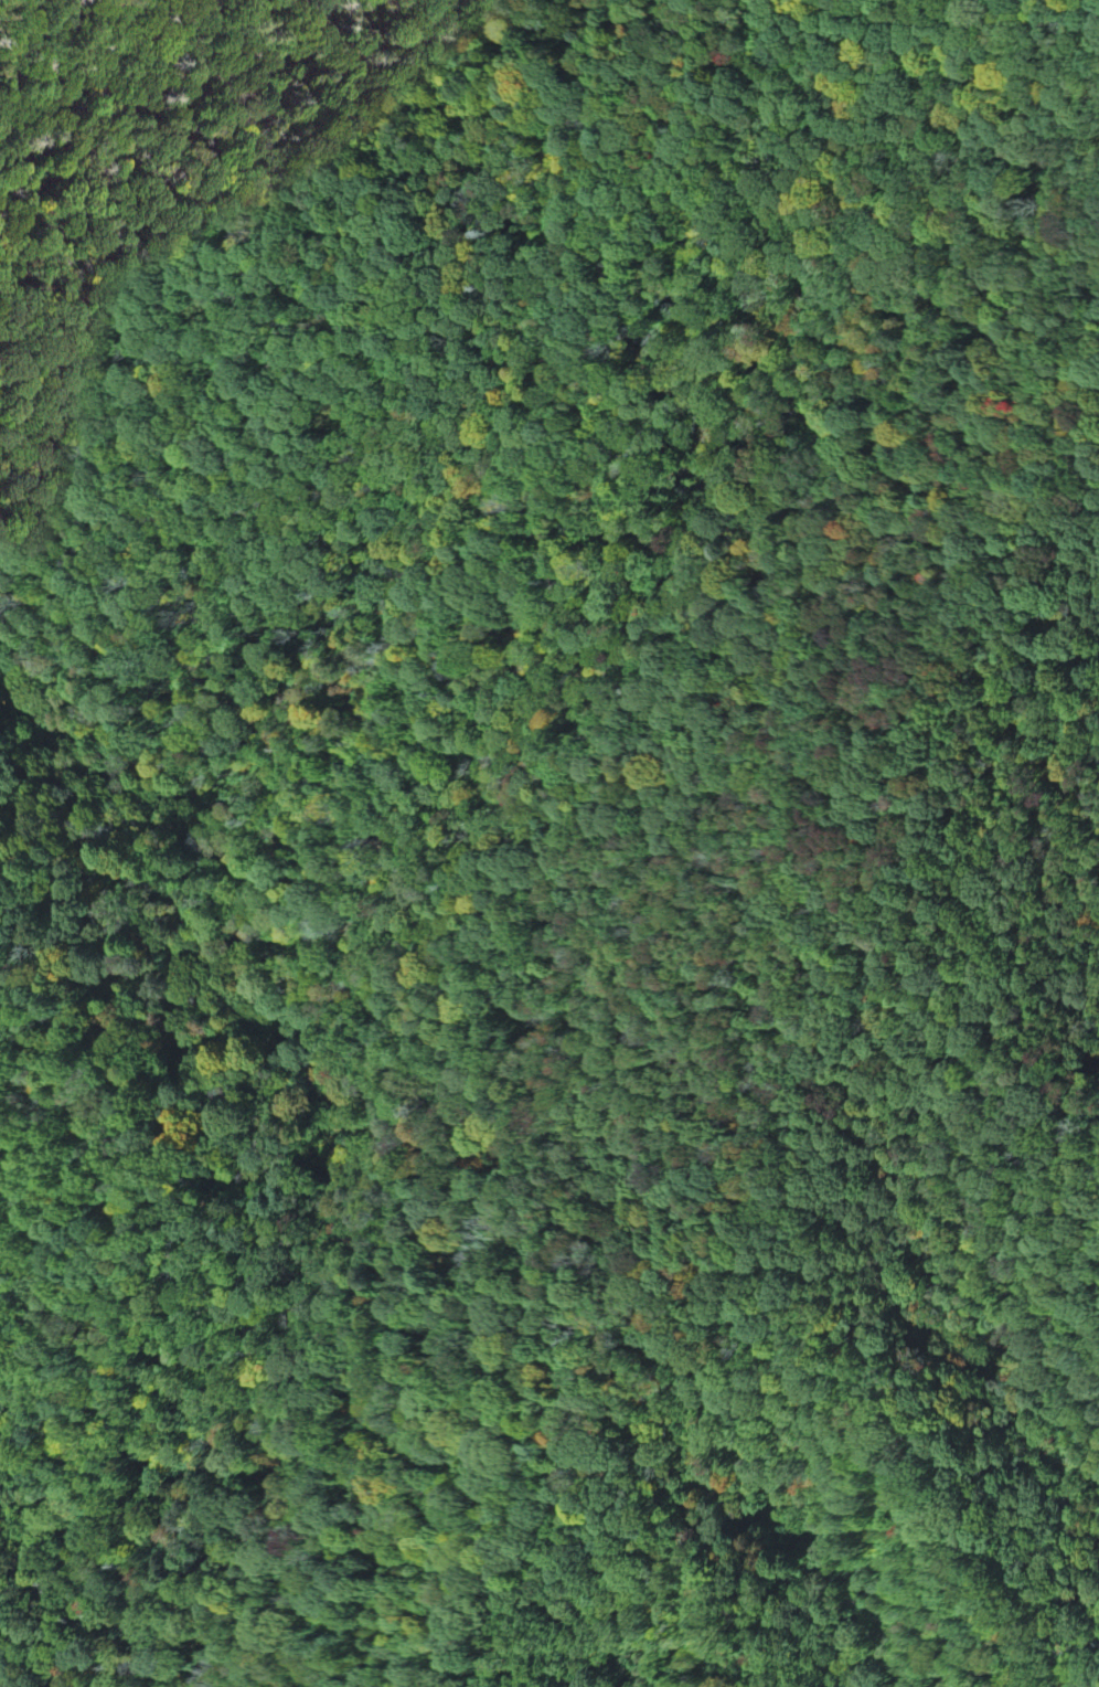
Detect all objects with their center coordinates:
road: (1020, 1535)

